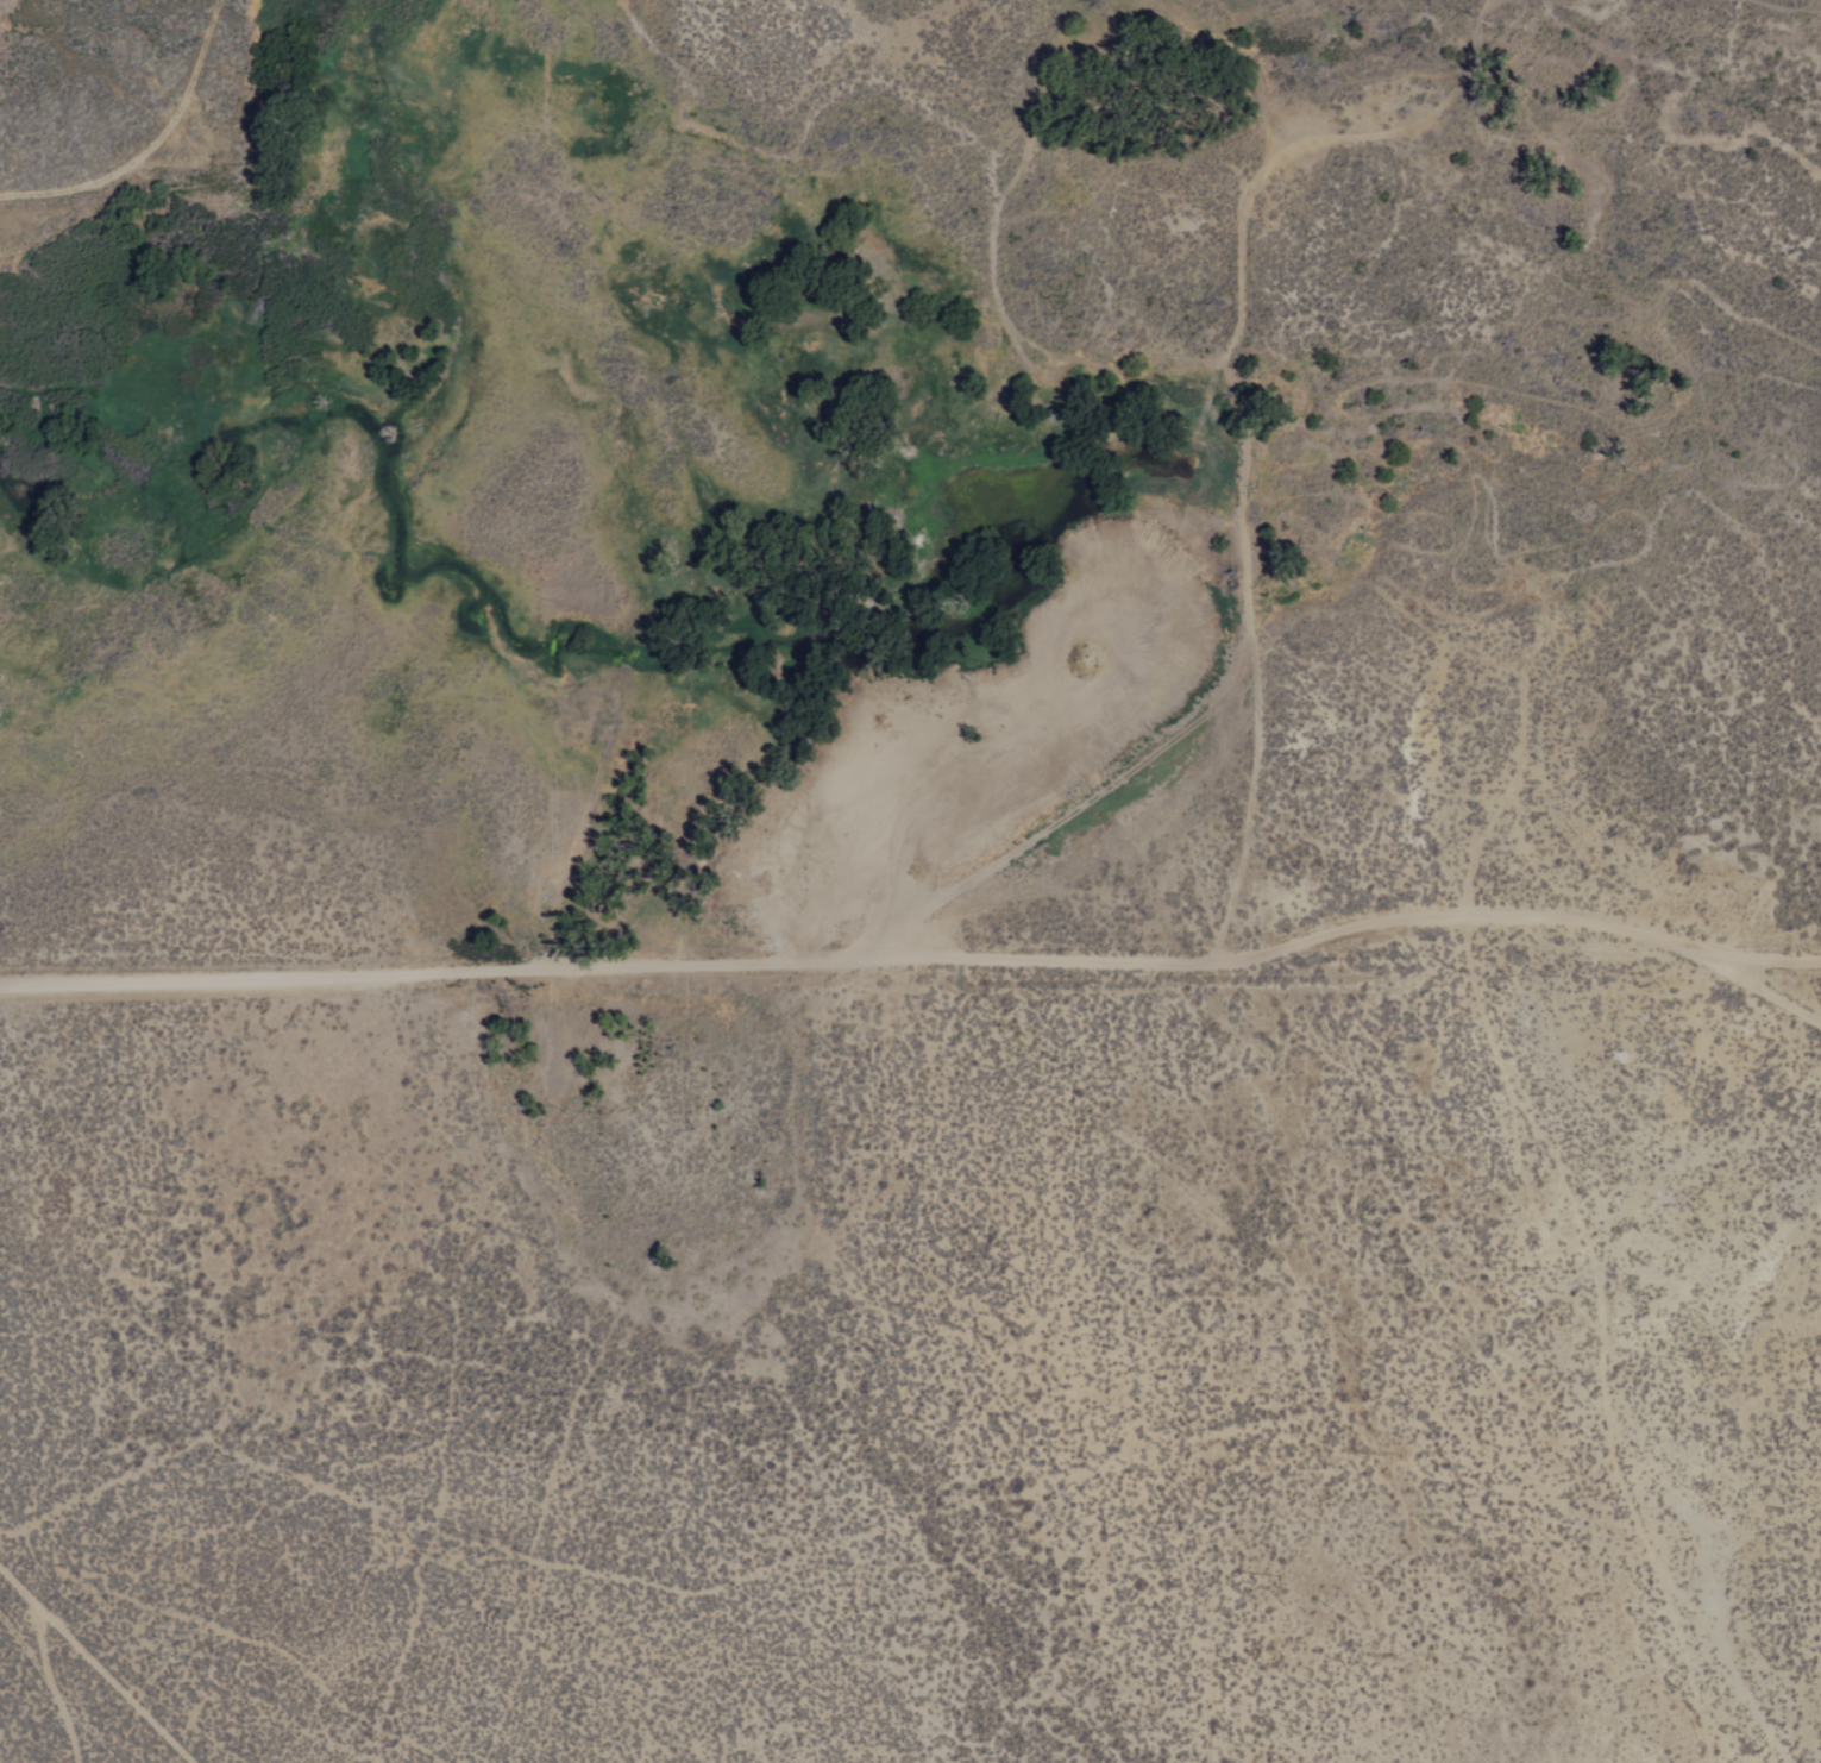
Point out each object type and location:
road: (1318, 144)
road: (1258, 661)
road: (1082, 795)
road: (917, 961)
road: (1782, 991)
road: (38, 1629)
road: (103, 1660)
road: (49, 1682)

